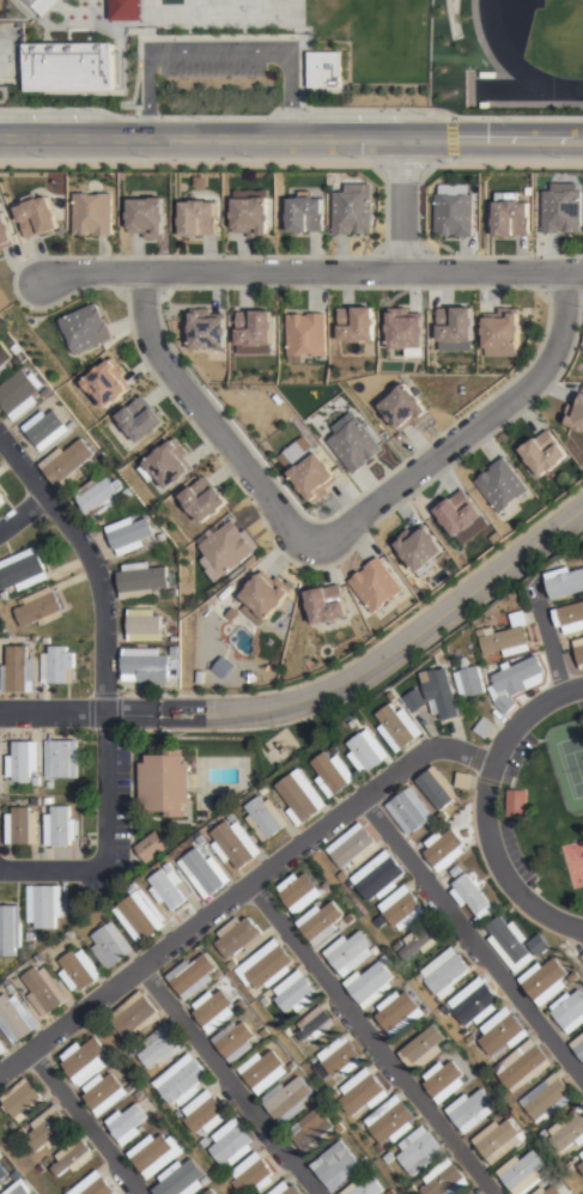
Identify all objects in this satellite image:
park: (244, 4)
building: (41, 5)
building: (125, 8)
park: (281, 8)
building: (226, 13)
track: (541, 38)
road: (218, 49)
building: (68, 66)
building: (324, 68)
track: (523, 89)
road: (291, 143)
building: (352, 207)
road: (401, 207)
building: (454, 208)
building: (561, 210)
building: (251, 211)
building: (92, 212)
building: (305, 213)
building: (37, 214)
building: (511, 214)
building: (147, 216)
building: (199, 217)
building: (5, 232)
building: (0, 250)
road: (311, 272)
building: (356, 323)
building: (254, 326)
building: (85, 327)
building: (455, 327)
building: (207, 328)
building: (406, 331)
building: (502, 331)
building: (305, 333)
building: (4, 358)
building: (20, 359)
building: (108, 381)
building: (20, 392)
building: (48, 392)
building: (405, 407)
building: (575, 412)
road: (209, 417)
building: (141, 418)
building: (73, 424)
building: (47, 428)
road: (469, 431)
building: (353, 441)
building: (294, 450)
building: (543, 451)
building: (68, 462)
building: (169, 462)
building: (314, 477)
building: (500, 484)
building: (129, 492)
building: (98, 497)
building: (204, 498)
building: (2, 499)
building: (458, 511)
road: (24, 515)
building: (130, 534)
building: (226, 546)
building: (419, 548)
building: (22, 570)
building: (145, 581)
building: (565, 582)
building: (376, 583)
building: (4, 595)
building: (265, 595)
building: (327, 602)
building: (38, 607)
building: (570, 618)
building: (146, 625)
building: (175, 629)
road: (107, 636)
building: (508, 637)
building: (35, 638)
building: (176, 638)
road: (547, 638)
building: (44, 640)
building: (176, 651)
building: (579, 651)
building: (57, 666)
building: (148, 666)
building: (223, 666)
building: (18, 671)
building: (520, 675)
building: (469, 680)
road: (321, 692)
building: (439, 693)
building: (391, 697)
building: (414, 699)
building: (504, 702)
building: (352, 725)
building: (484, 727)
building: (396, 728)
building: (365, 751)
building: (60, 758)
park: (569, 760)
building: (22, 762)
building: (332, 774)
building: (463, 781)
building: (50, 784)
building: (163, 784)
building: (36, 788)
building: (437, 788)
building: (263, 789)
building: (300, 795)
building: (36, 801)
building: (49, 801)
building: (517, 804)
road: (487, 810)
building: (409, 811)
building: (204, 816)
building: (265, 818)
building: (22, 826)
building: (60, 828)
building: (235, 842)
building: (201, 843)
building: (351, 846)
building: (151, 847)
building: (444, 849)
park: (573, 860)
road: (53, 871)
building: (456, 872)
building: (205, 874)
building: (376, 875)
building: (342, 877)
road: (241, 890)
building: (174, 892)
building: (299, 892)
building: (470, 897)
building: (43, 905)
building: (496, 905)
building: (401, 909)
building: (139, 916)
building: (378, 921)
building: (474, 921)
building: (321, 922)
building: (340, 925)
building: (338, 926)
building: (8, 931)
building: (71, 934)
building: (30, 937)
building: (238, 938)
building: (420, 940)
road: (472, 941)
building: (110, 945)
building: (397, 945)
building: (510, 945)
building: (540, 946)
building: (376, 950)
building: (348, 953)
building: (582, 957)
building: (41, 964)
building: (231, 964)
building: (265, 966)
building: (79, 970)
building: (445, 972)
building: (218, 975)
building: (190, 977)
building: (419, 977)
building: (575, 977)
building: (545, 982)
building: (370, 984)
building: (10, 989)
building: (45, 989)
building: (294, 993)
building: (261, 1000)
building: (473, 1004)
building: (241, 1005)
building: (212, 1011)
building: (444, 1011)
building: (569, 1012)
building: (397, 1014)
building: (134, 1017)
building: (16, 1019)
building: (312, 1025)
building: (287, 1032)
building: (502, 1032)
building: (265, 1034)
road: (370, 1038)
building: (469, 1038)
building: (235, 1042)
building: (448, 1045)
building: (578, 1047)
building: (2, 1048)
building: (159, 1048)
building: (425, 1049)
building: (339, 1057)
building: (84, 1060)
building: (312, 1062)
building: (292, 1067)
building: (522, 1067)
building: (262, 1073)
building: (180, 1081)
road: (227, 1081)
building: (443, 1081)
building: (103, 1093)
building: (139, 1095)
building: (360, 1096)
building: (24, 1097)
building: (318, 1098)
building: (547, 1099)
building: (286, 1101)
building: (499, 1105)
building: (470, 1111)
building: (178, 1114)
building: (202, 1114)
building: (389, 1121)
road: (87, 1122)
building: (126, 1123)
building: (49, 1127)
building: (340, 1129)
building: (20, 1131)
building: (314, 1133)
building: (569, 1133)
building: (543, 1134)
building: (498, 1141)
building: (204, 1143)
building: (231, 1144)
building: (1, 1150)
building: (418, 1152)
building: (153, 1153)
building: (72, 1154)
building: (582, 1156)
building: (387, 1159)
building: (364, 1160)
building: (567, 1165)
building: (38, 1166)
building: (335, 1168)
building: (581, 1169)
building: (2, 1171)
building: (17, 1171)
building: (522, 1174)
building: (251, 1176)
building: (444, 1180)
building: (181, 1181)
building: (206, 1182)
building: (92, 1183)
building: (0, 1187)
building: (20, 1187)
building: (286, 1188)
building: (365, 1188)
building: (554, 1188)
building: (411, 1189)
building: (470, 1192)
building: (211, 1193)
building: (390, 1193)
building: (475, 1193)

